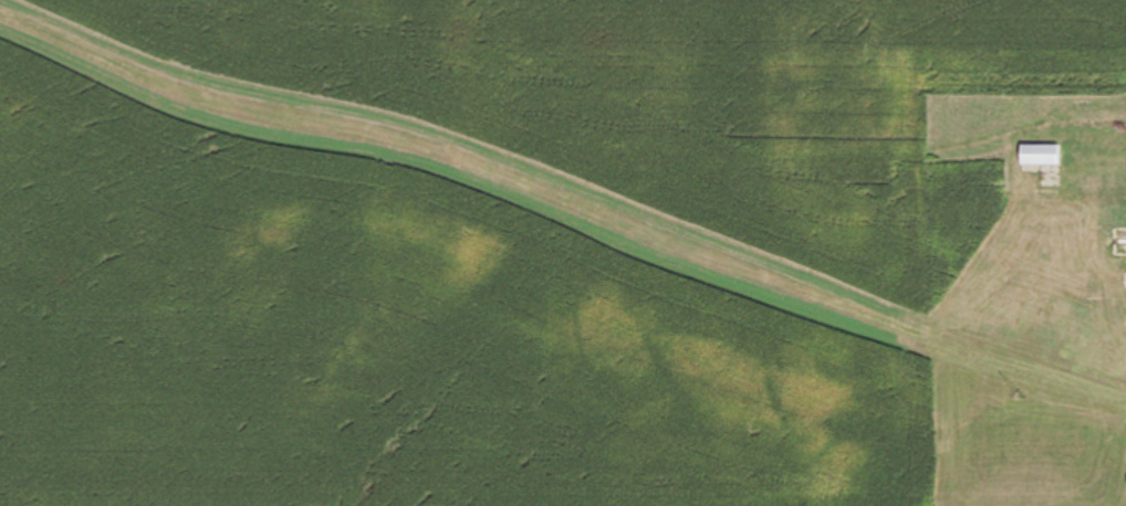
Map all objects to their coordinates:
building: (1080, 156)
building: (1119, 243)

